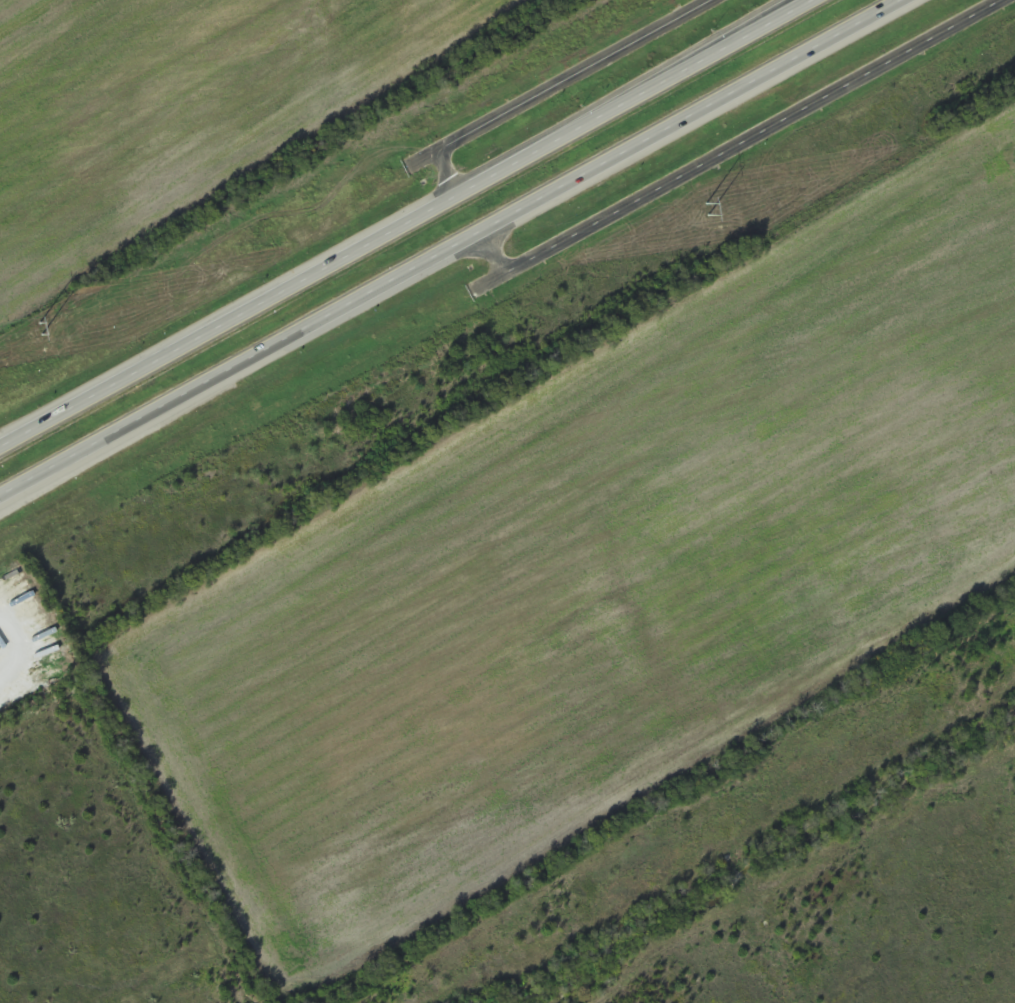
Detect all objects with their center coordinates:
road: (565, 86)
crop: (181, 113)
road: (735, 145)
power tower: (708, 208)
road: (406, 223)
road: (450, 248)
power tower: (40, 326)
road: (21, 643)

